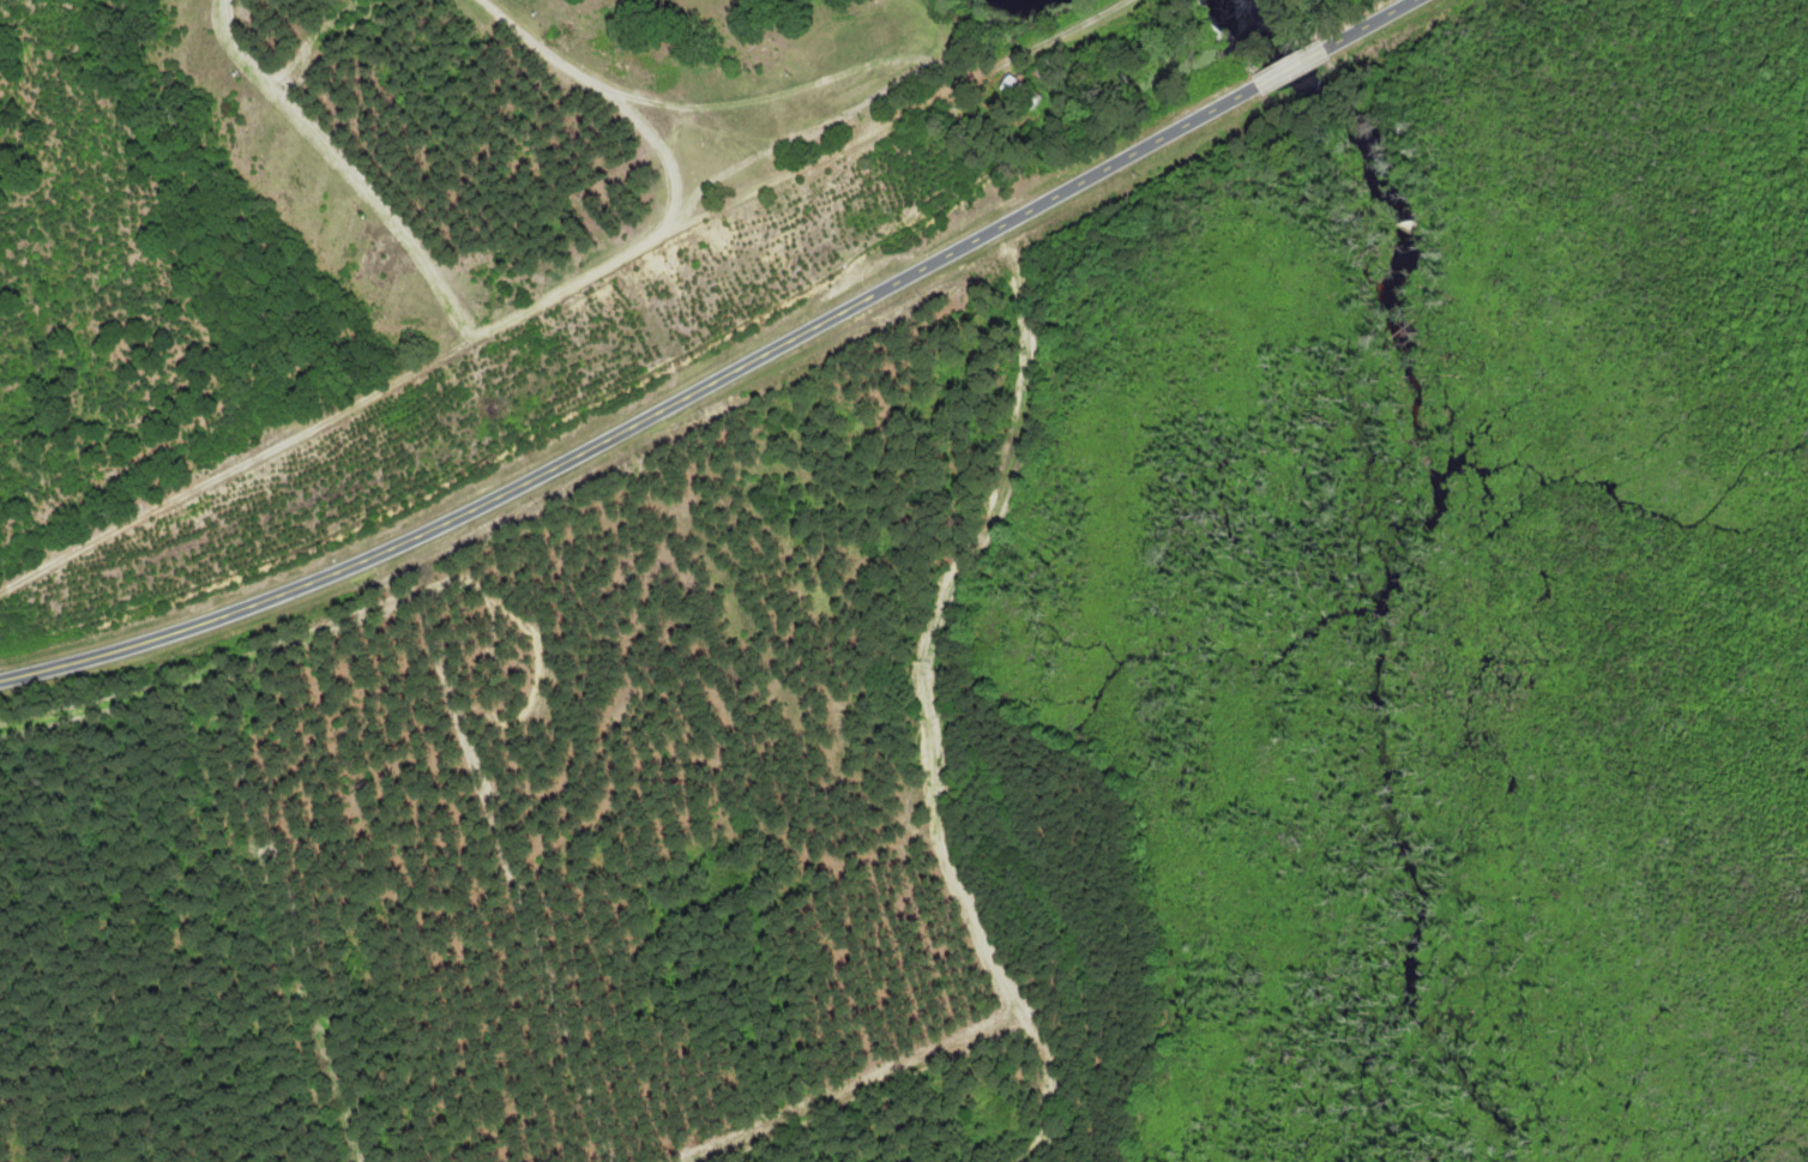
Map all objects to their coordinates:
road: (1370, 23)
road: (1033, 44)
road: (251, 50)
road: (1294, 66)
road: (611, 100)
road: (394, 212)
road: (476, 338)
road: (644, 417)

